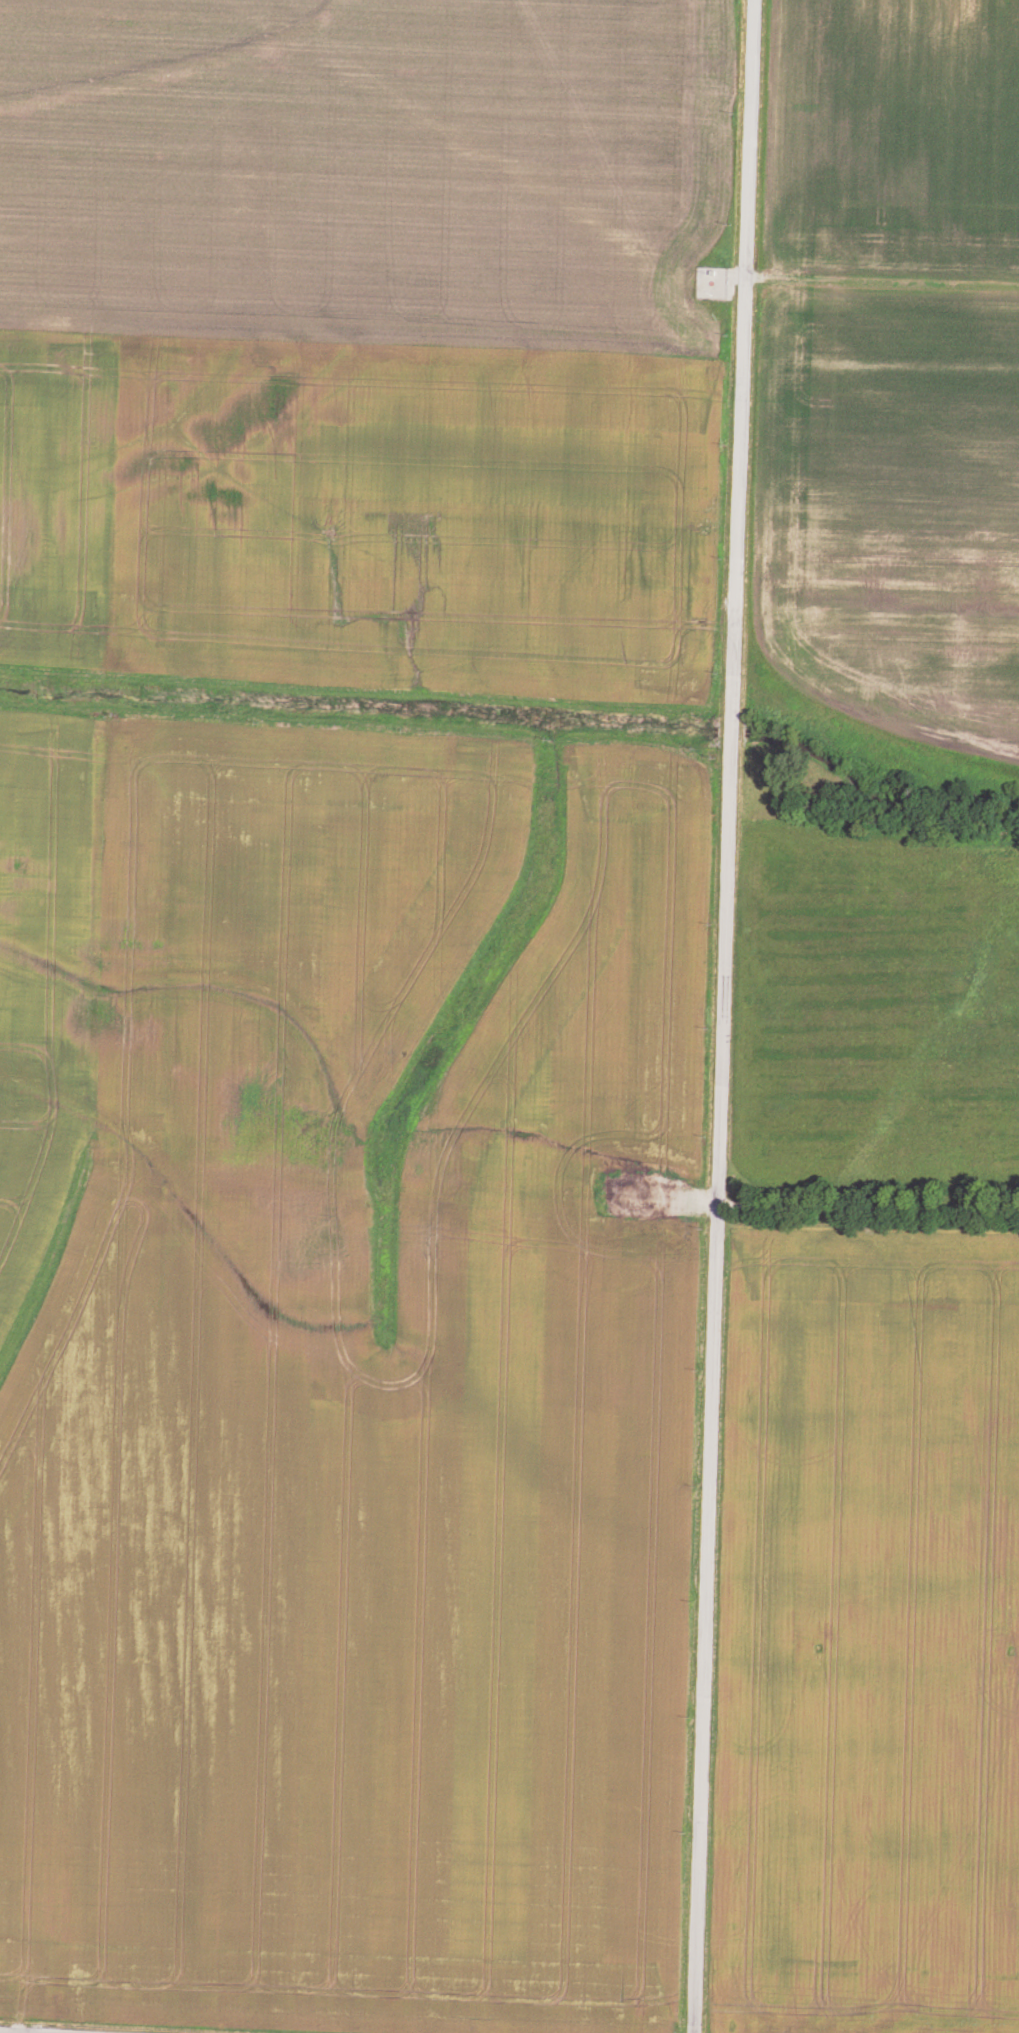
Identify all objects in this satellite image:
road: (720, 1016)
road: (866, 1207)
road: (21, 2032)

